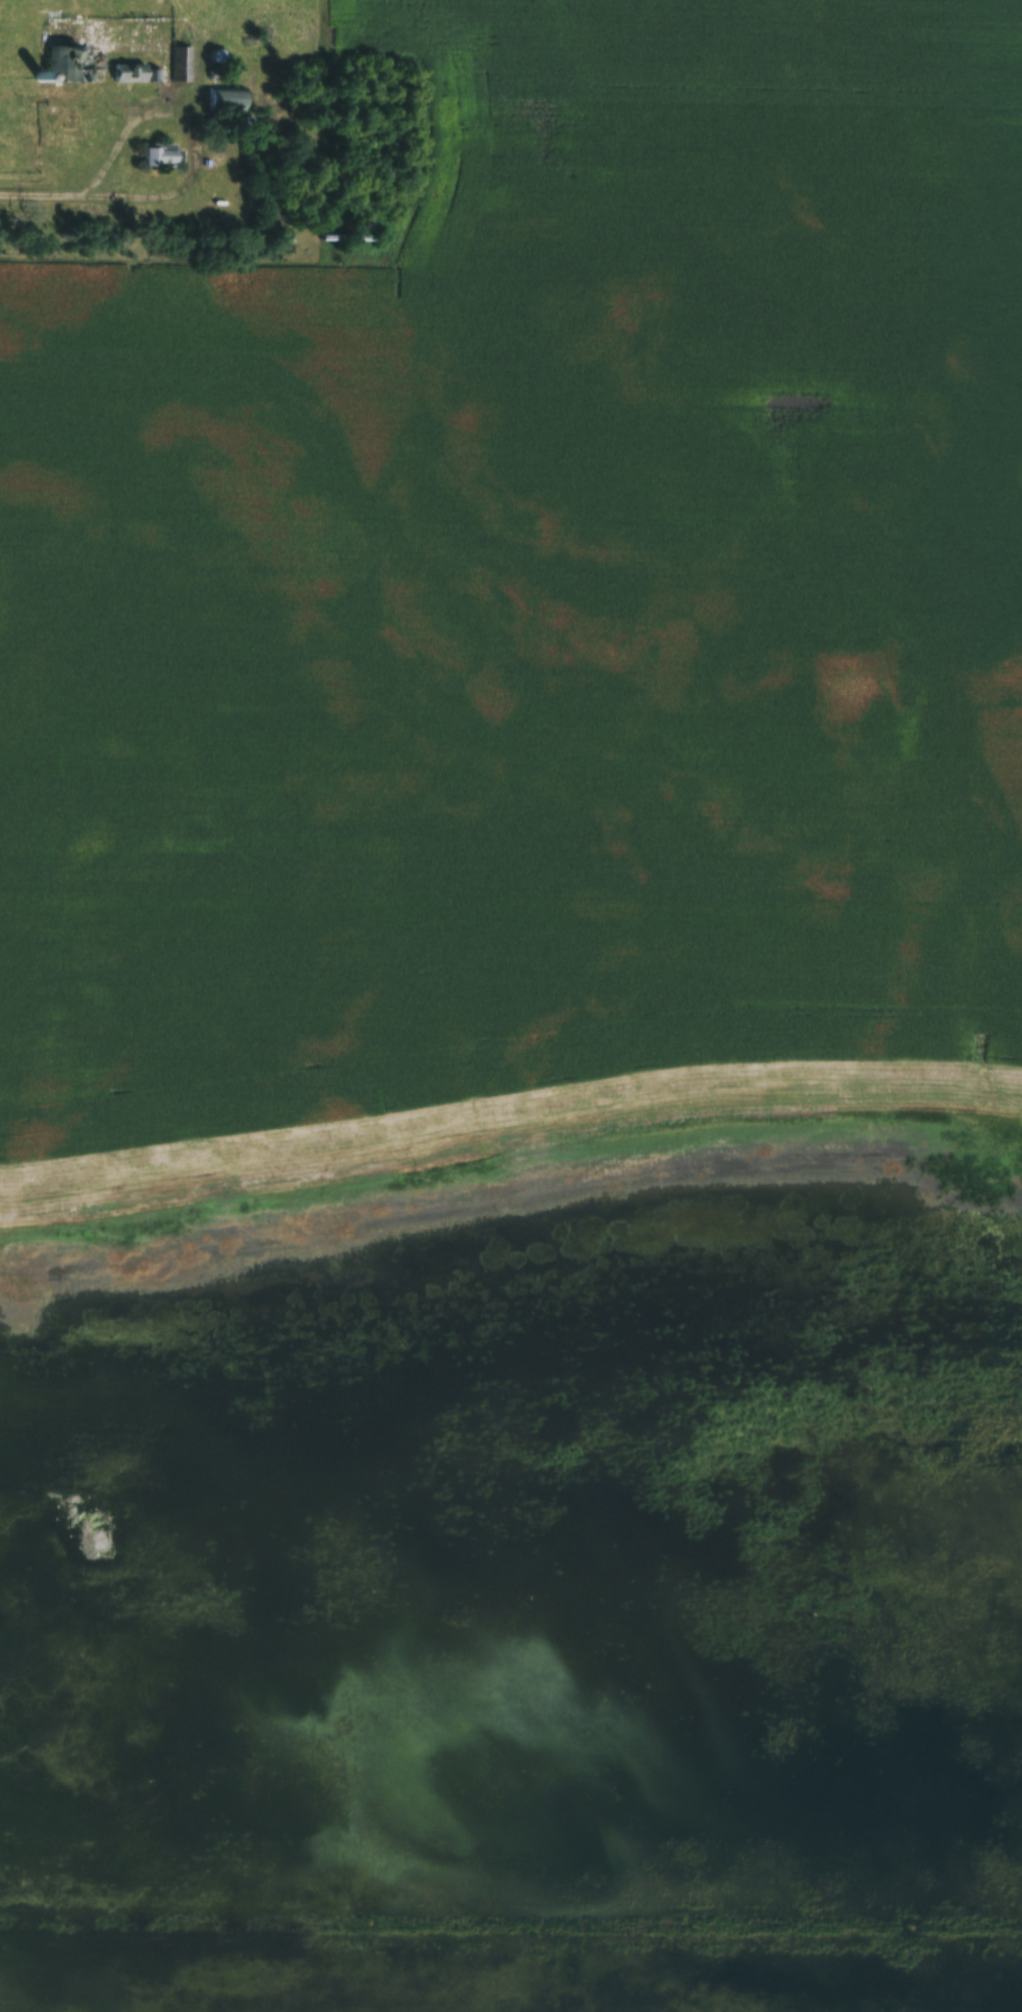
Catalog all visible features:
building: (76, 66)
building: (181, 66)
building: (129, 74)
building: (228, 100)
road: (194, 135)
building: (162, 157)
road: (39, 195)

